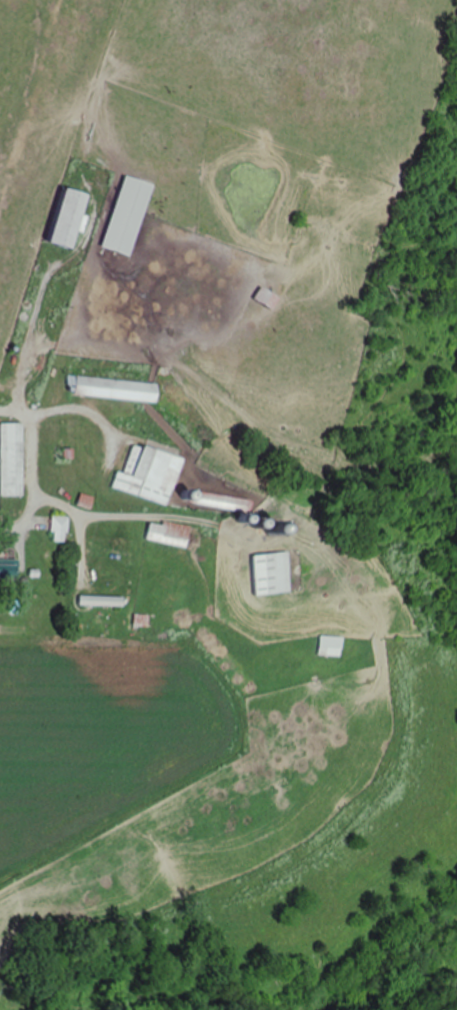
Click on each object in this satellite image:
building: (132, 215)
building: (75, 217)
building: (271, 297)
building: (117, 388)
road: (228, 432)
building: (13, 459)
building: (147, 473)
road: (35, 483)
building: (61, 529)
building: (170, 534)
building: (9, 567)
building: (272, 574)
building: (103, 600)
building: (143, 620)
building: (331, 646)

